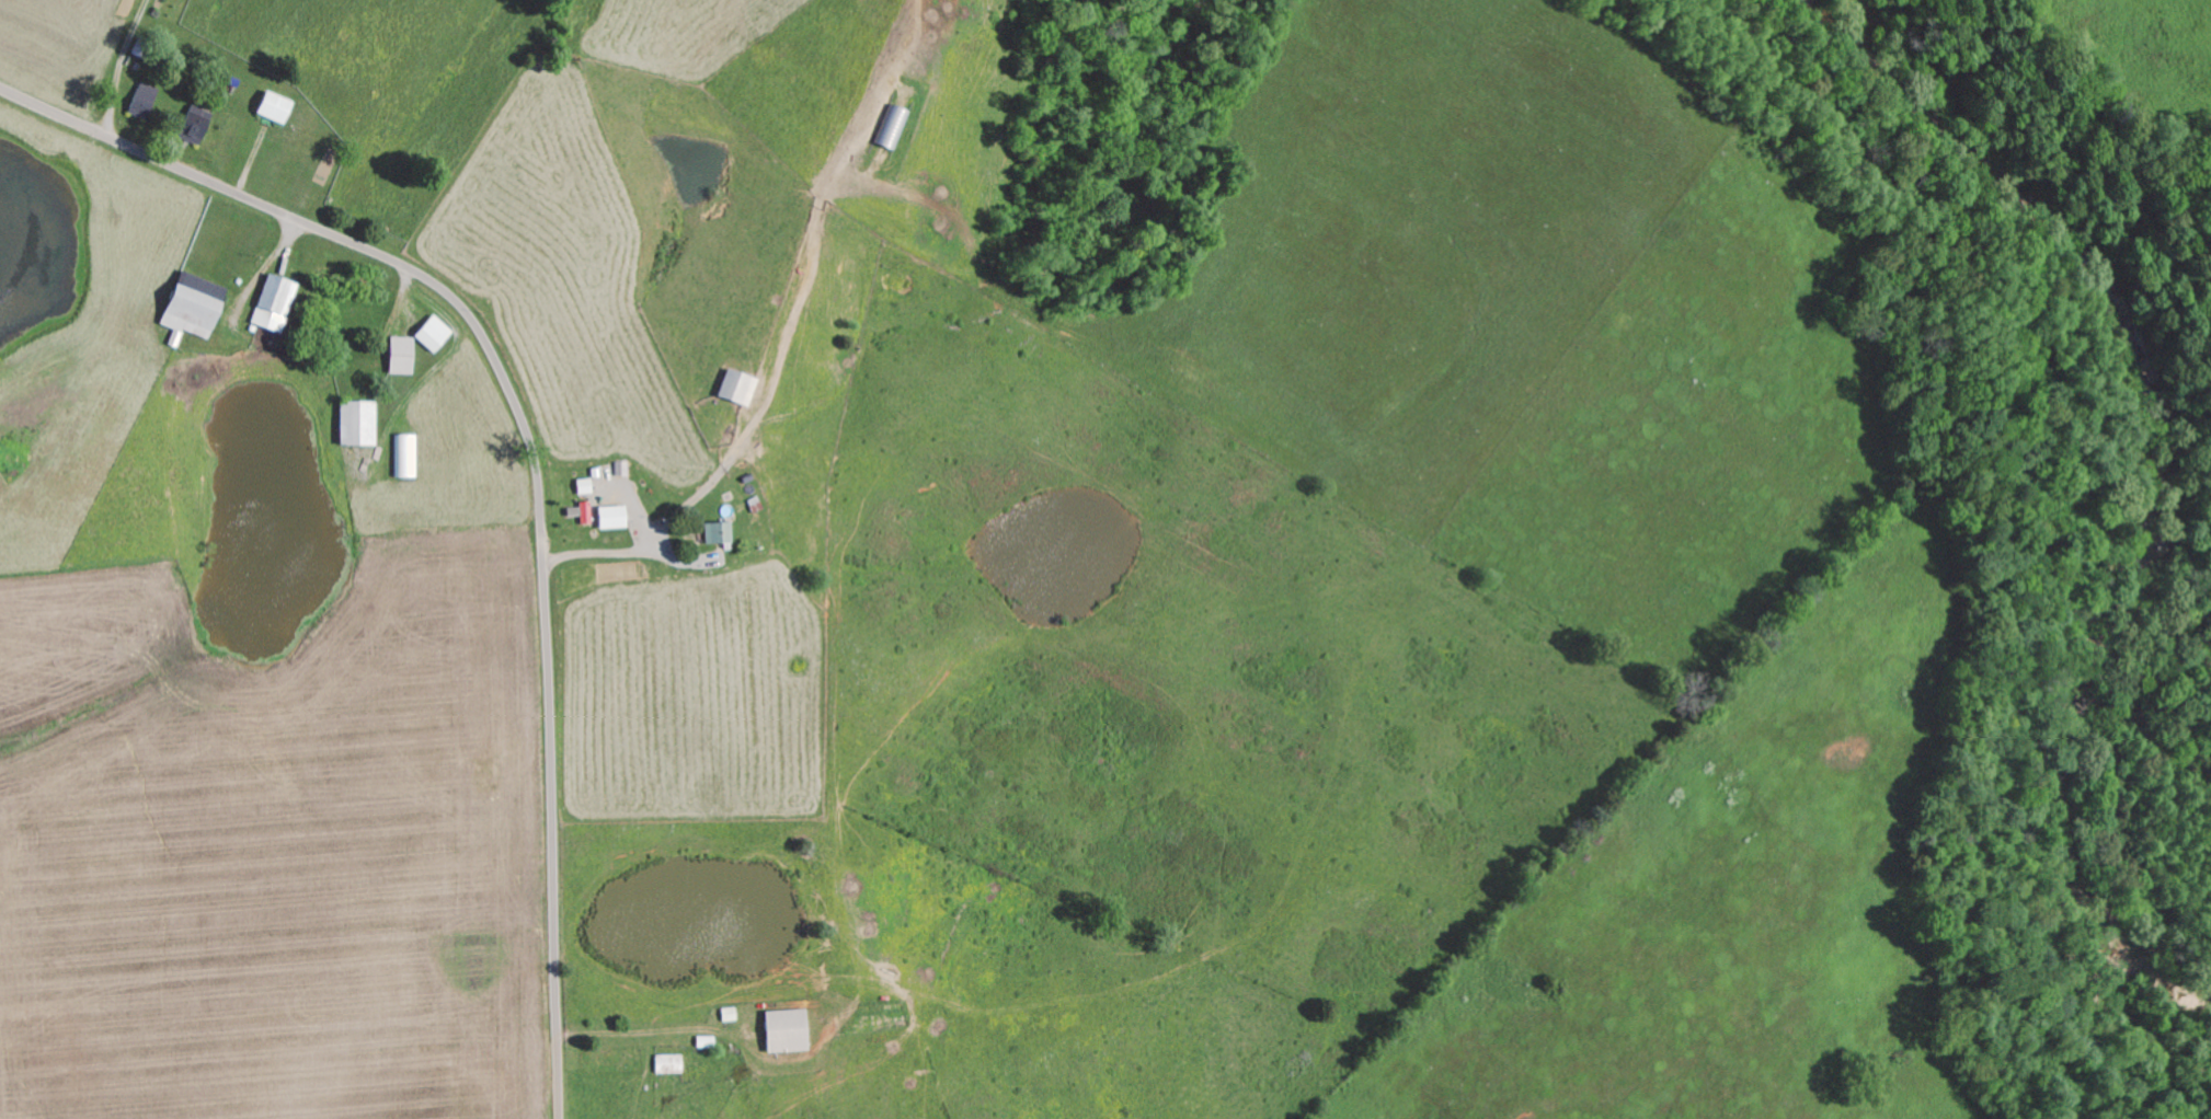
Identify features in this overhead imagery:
road: (100, 60)
building: (146, 100)
building: (275, 106)
building: (195, 124)
building: (275, 302)
building: (195, 304)
building: (433, 333)
building: (401, 354)
building: (738, 387)
building: (358, 423)
road: (531, 449)
building: (586, 511)
building: (614, 516)
building: (718, 532)
building: (731, 1013)
building: (788, 1028)
building: (707, 1040)
building: (671, 1062)

